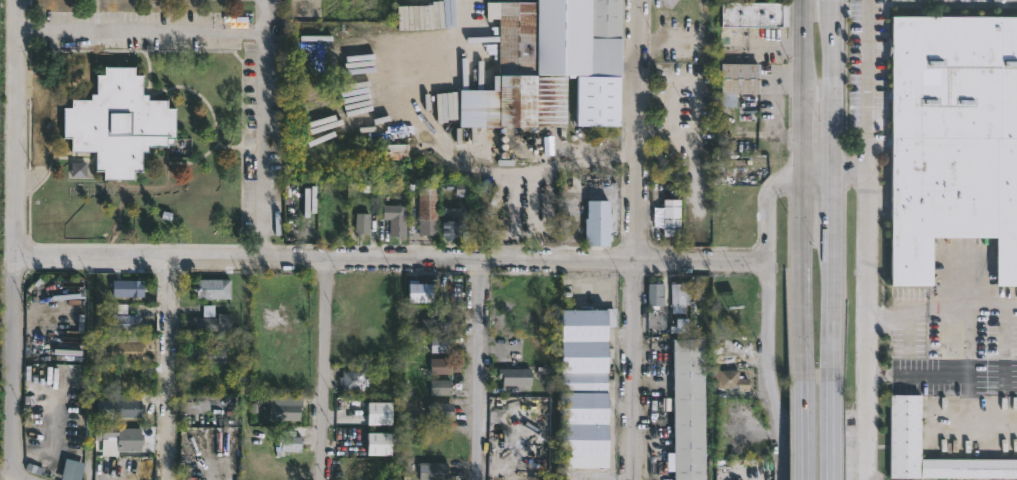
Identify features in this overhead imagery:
road: (266, 14)
building: (755, 14)
road: (257, 28)
parking lot: (141, 29)
building: (552, 66)
building: (742, 78)
road: (868, 88)
road: (774, 103)
building: (124, 126)
road: (39, 130)
building: (953, 140)
road: (442, 150)
road: (817, 174)
road: (848, 175)
road: (803, 184)
road: (831, 184)
road: (766, 204)
building: (429, 211)
building: (671, 218)
building: (396, 219)
building: (328, 223)
building: (361, 223)
building: (451, 223)
building: (597, 223)
building: (302, 226)
road: (637, 239)
road: (20, 241)
road: (393, 259)
building: (212, 287)
building: (128, 288)
building: (420, 292)
building: (655, 293)
building: (679, 297)
road: (942, 305)
building: (211, 322)
building: (125, 323)
building: (432, 327)
road: (868, 328)
road: (908, 343)
building: (441, 345)
building: (126, 348)
building: (210, 354)
building: (441, 367)
road: (169, 368)
road: (325, 369)
road: (479, 370)
road: (769, 370)
road: (876, 374)
road: (896, 374)
building: (511, 375)
road: (962, 375)
building: (734, 380)
building: (130, 382)
building: (355, 382)
building: (441, 388)
building: (588, 388)
building: (127, 405)
building: (284, 407)
building: (442, 410)
building: (691, 411)
building: (379, 413)
road: (803, 424)
road: (830, 424)
building: (906, 426)
building: (118, 438)
building: (289, 443)
building: (378, 443)
building: (434, 471)
road: (28, 479)

